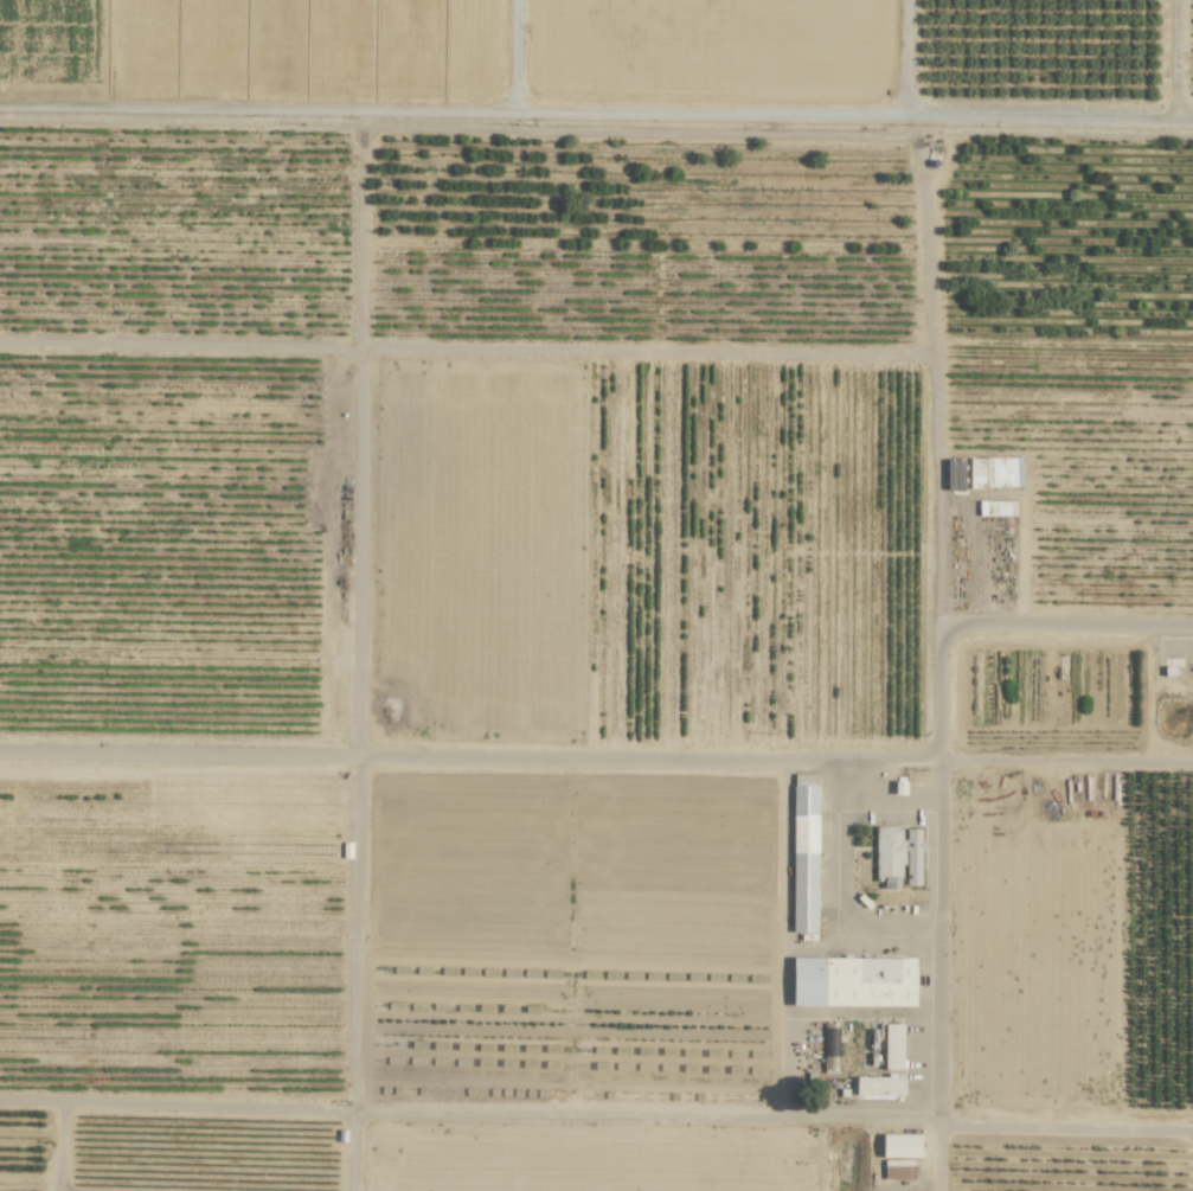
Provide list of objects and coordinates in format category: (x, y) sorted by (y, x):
road: (596, 122)
road: (464, 345)
road: (930, 373)
road: (1065, 626)
road: (351, 655)
crop: (597, 678)
road: (469, 751)
road: (1066, 755)
building: (802, 854)
building: (897, 857)
road: (938, 866)
building: (853, 981)
building: (893, 1046)
building: (829, 1064)
building: (879, 1087)
road: (468, 1108)
road: (1064, 1123)
building: (900, 1145)
road: (56, 1146)
road: (936, 1151)
building: (897, 1168)

